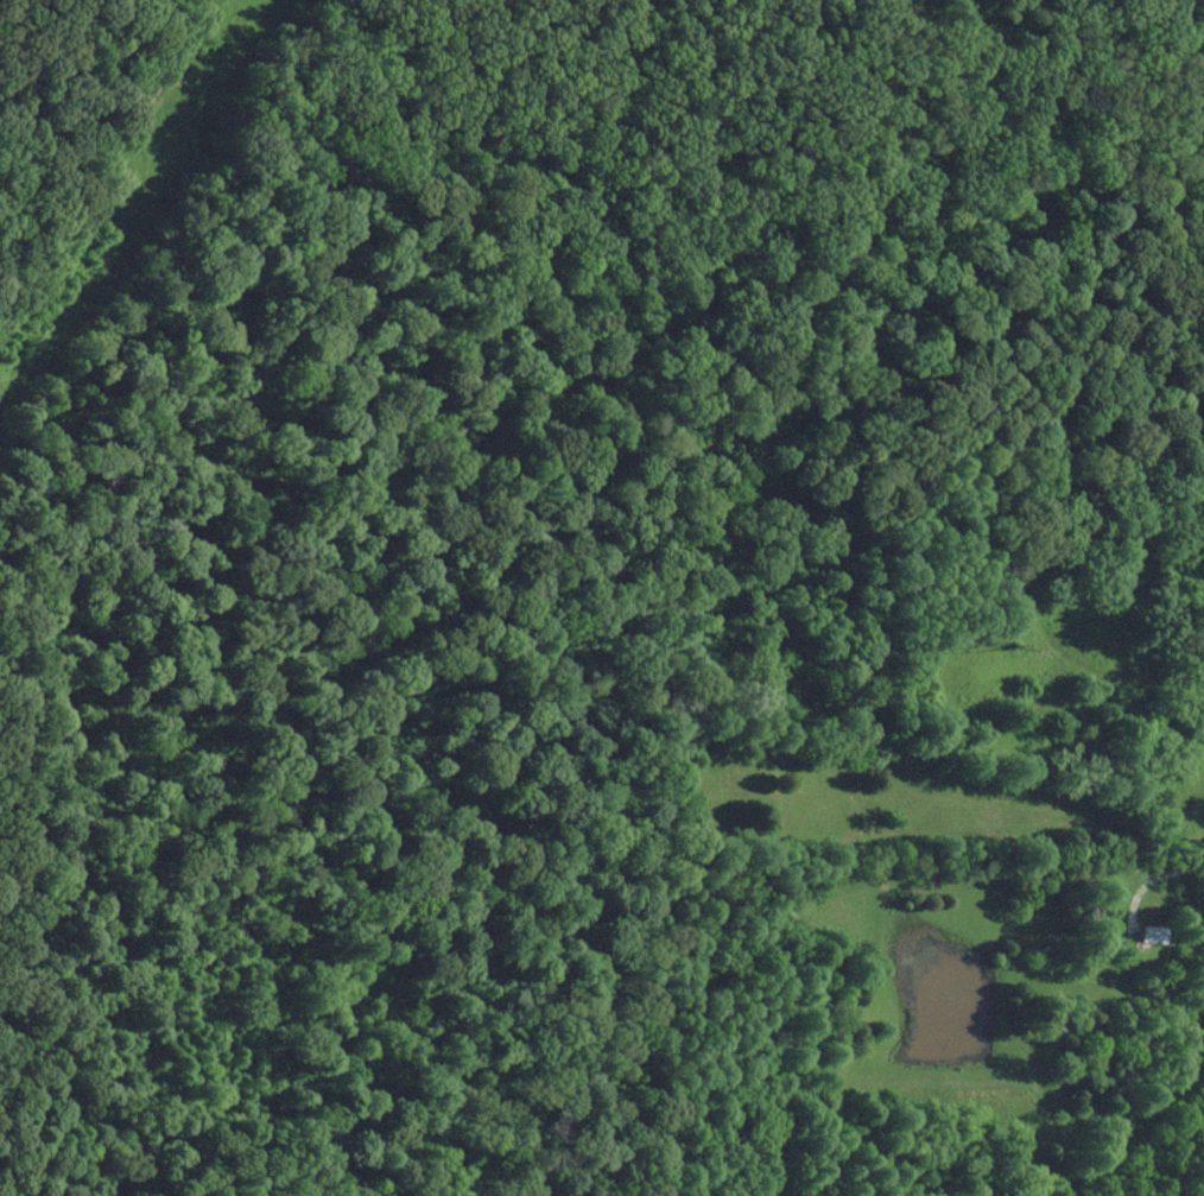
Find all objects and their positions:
building: (1153, 934)

